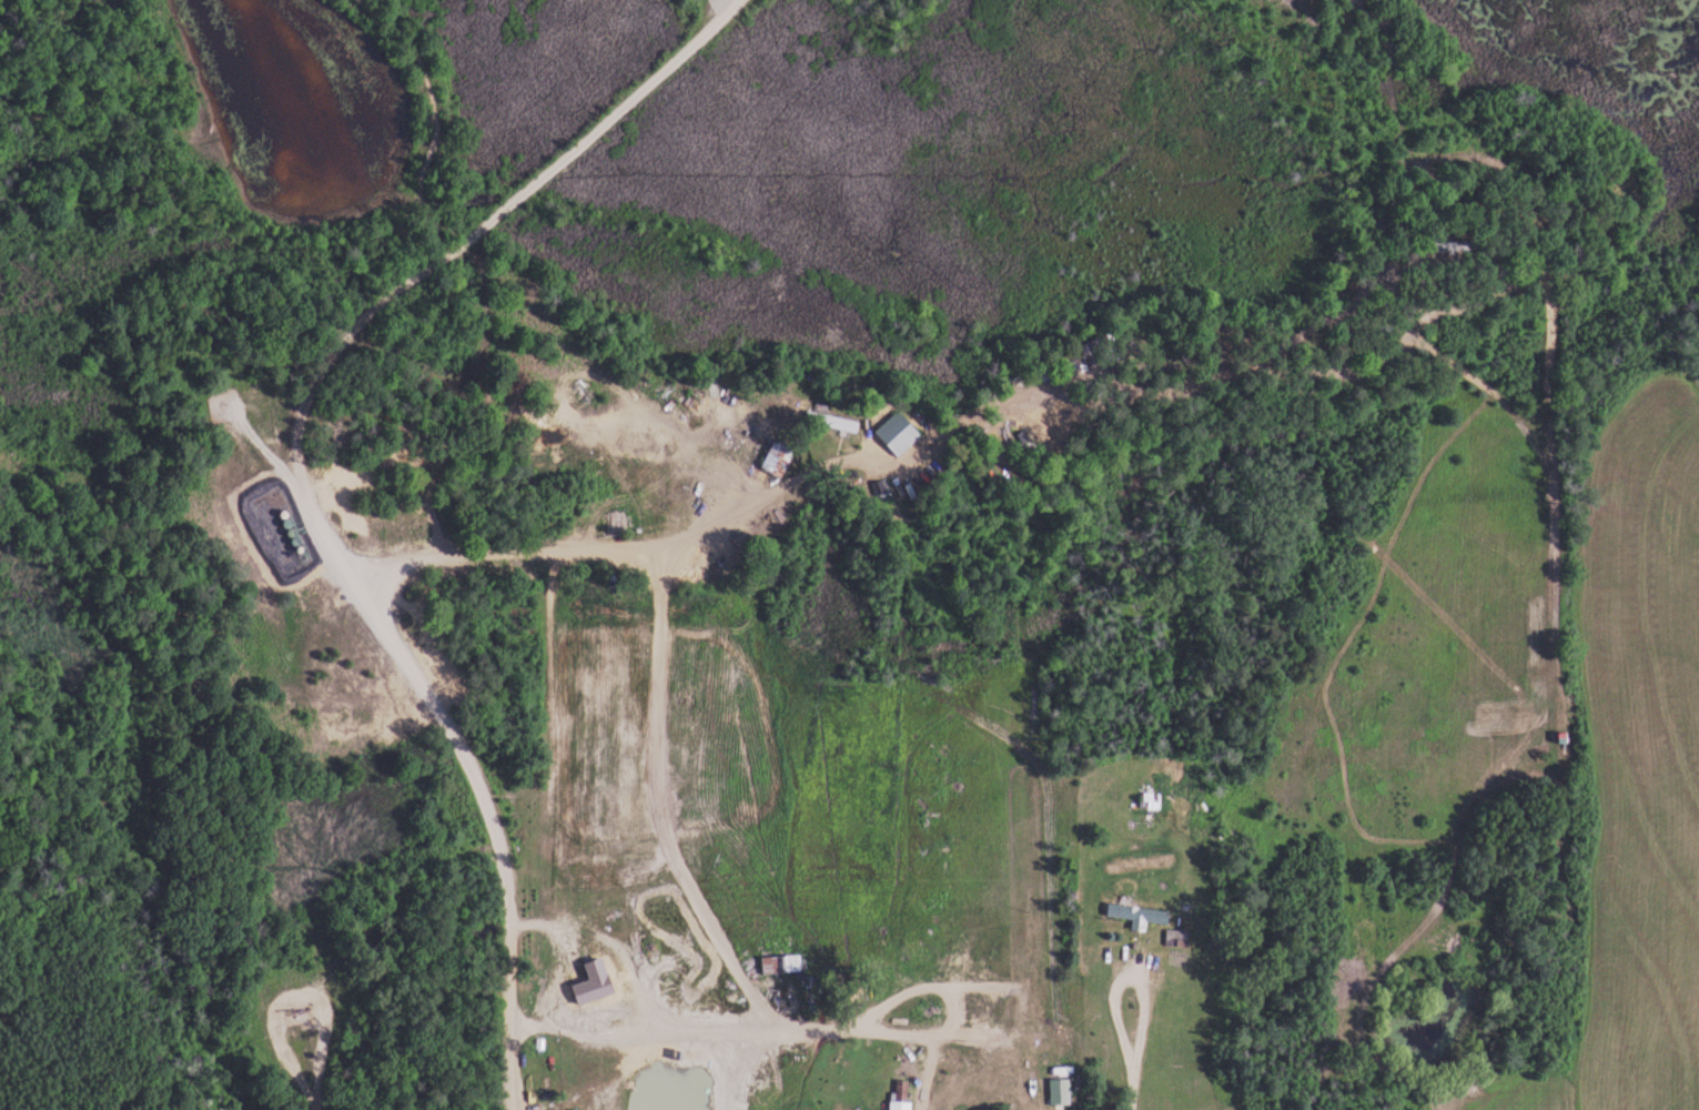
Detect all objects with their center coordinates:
building: (832, 423)
road: (313, 443)
building: (780, 456)
building: (1152, 801)
building: (1139, 916)
building: (1177, 939)
road: (1126, 968)
building: (549, 973)
petroleum well: (306, 1008)
road: (765, 1026)
road: (1127, 1090)
building: (1061, 1092)

